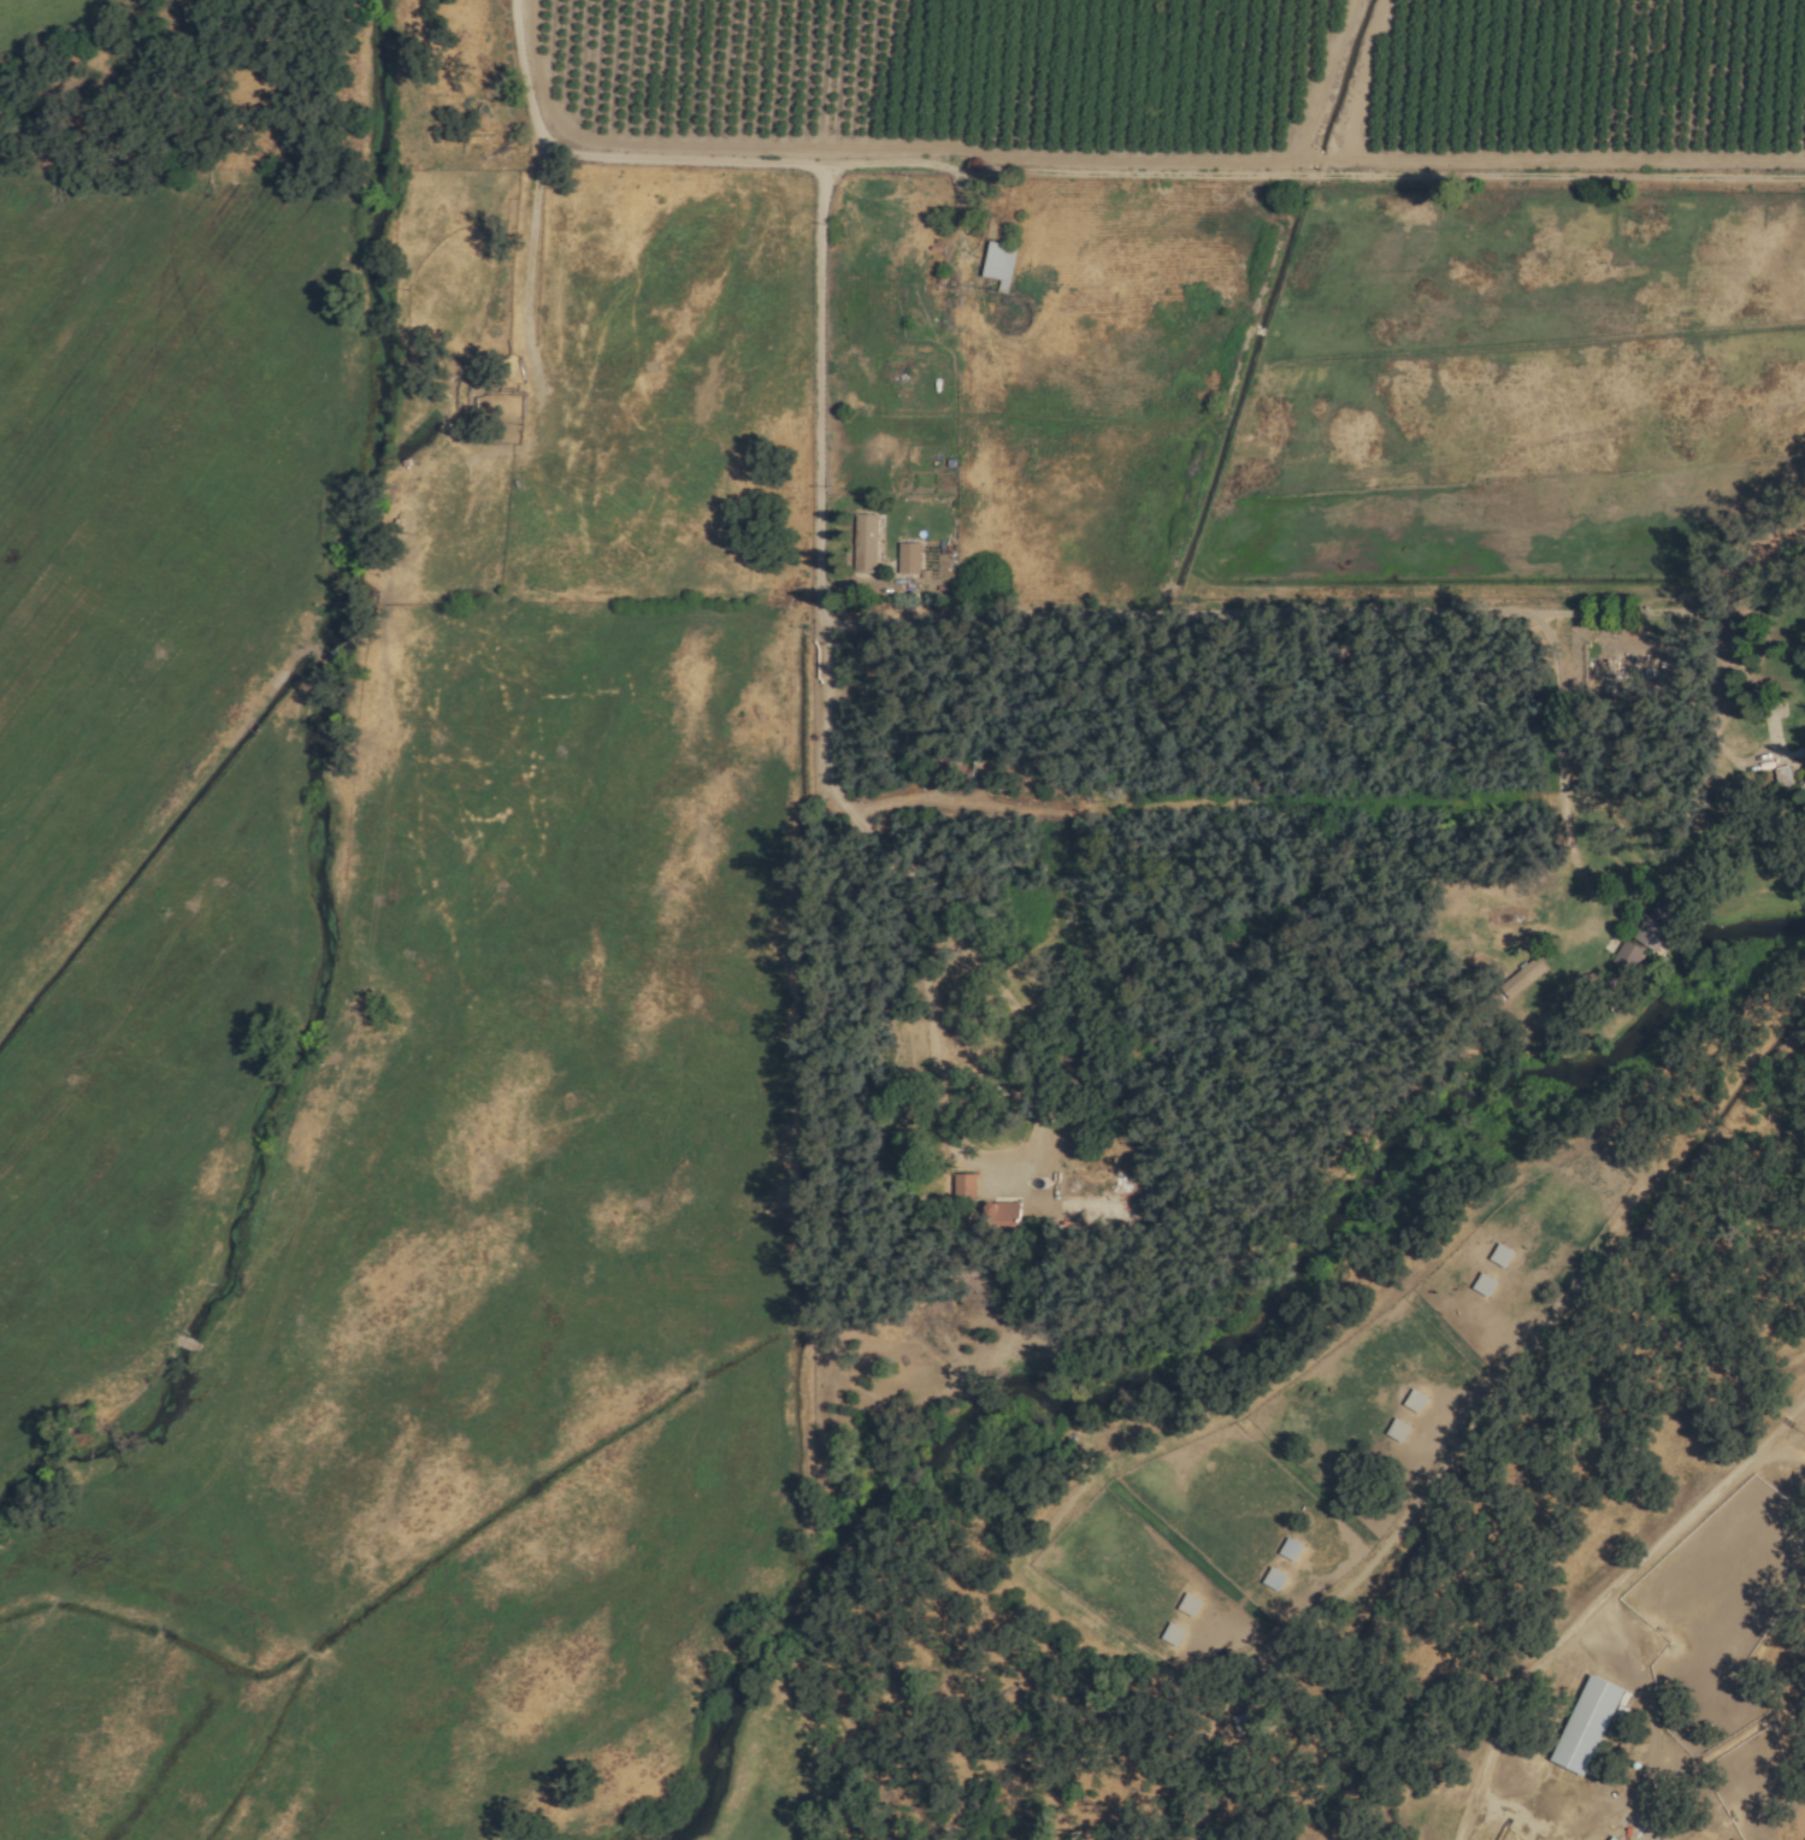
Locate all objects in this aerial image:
crop: (48, 23)
crop: (1204, 72)
road: (1107, 171)
road: (541, 246)
building: (997, 264)
crop: (1404, 388)
building: (863, 539)
building: (906, 558)
road: (1113, 618)
crop: (146, 721)
road: (1558, 756)
road: (824, 759)
building: (943, 767)
building: (1652, 922)
building: (1626, 957)
crop: (500, 1138)
building: (1396, 1431)
road: (1594, 1606)
building: (1170, 1635)
building: (1585, 1723)
road: (1651, 1729)
crop: (863, 1741)
building: (1605, 1838)

